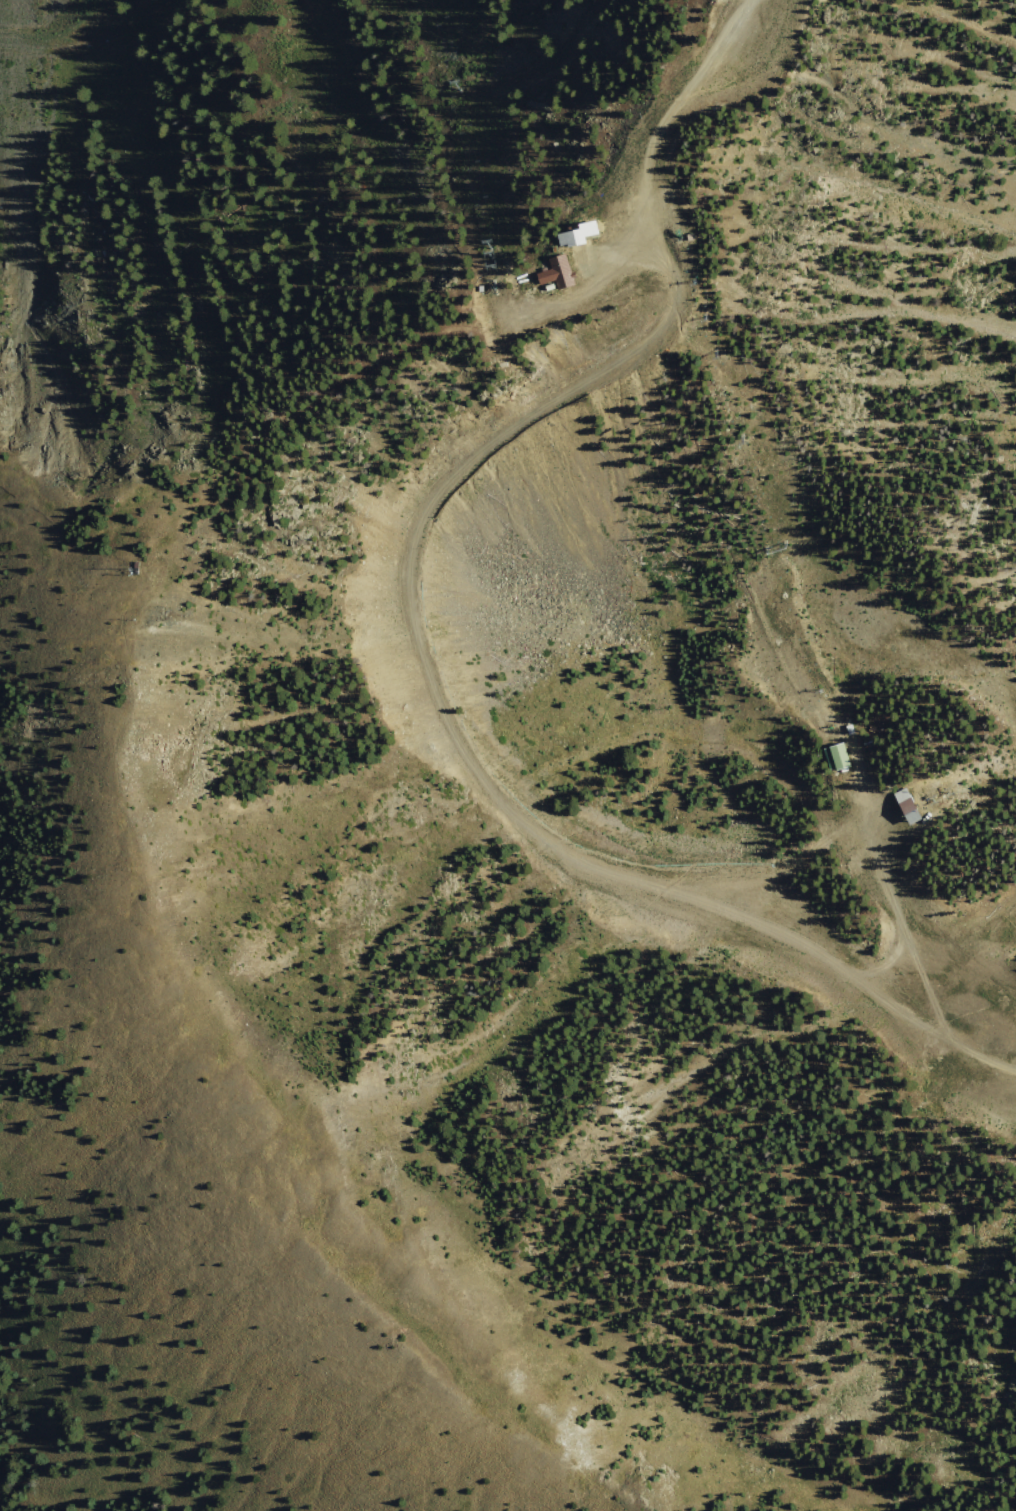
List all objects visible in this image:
road: (79, 1)
road: (80, 1)
road: (732, 14)
road: (530, 55)
aerialway pylon: (460, 88)
road: (672, 133)
road: (907, 161)
building: (594, 232)
building: (706, 234)
aerialway pylon: (492, 245)
aerialway pylon: (494, 254)
aerialway pylon: (496, 266)
building: (573, 271)
aerialway pylon: (703, 316)
aerialway pylon: (774, 552)
ski resort: (572, 663)
aerialway pylon: (825, 720)
road: (646, 737)
building: (844, 755)
road: (476, 764)
aerialway pylon: (944, 790)
building: (916, 806)

